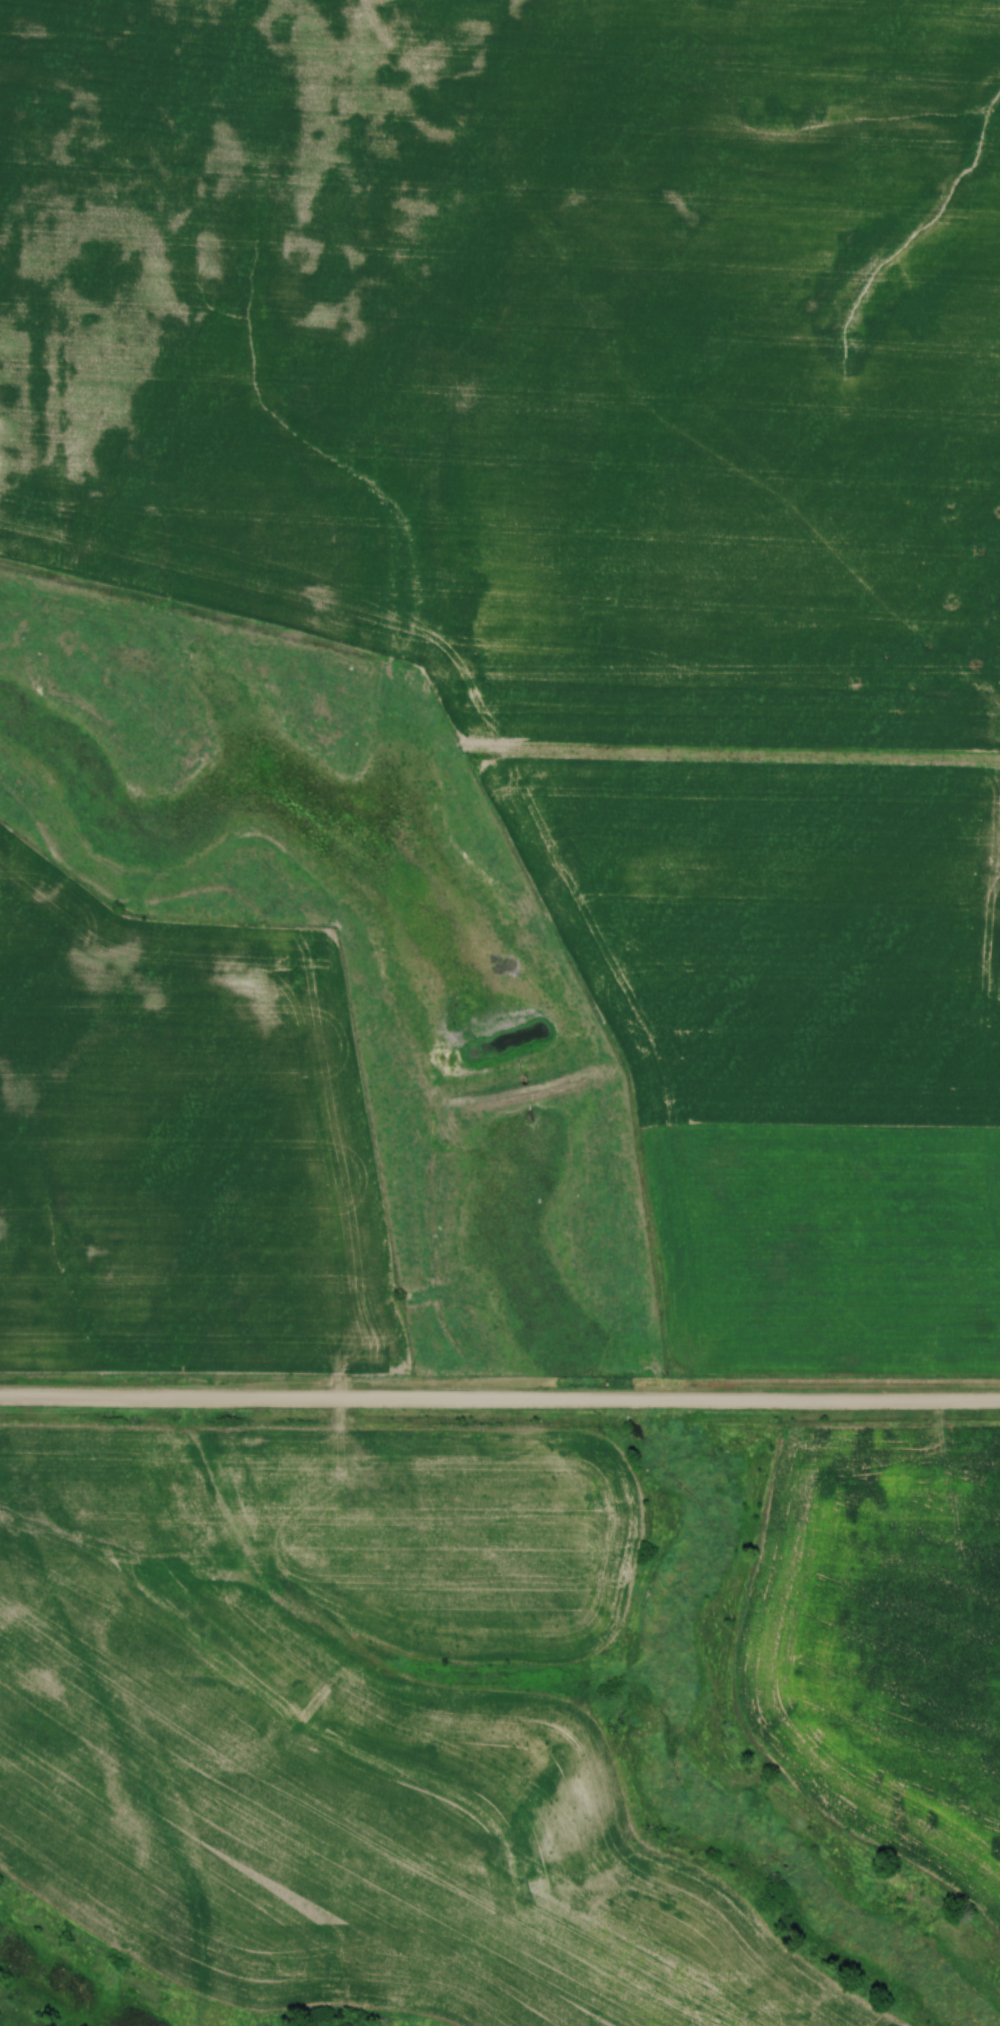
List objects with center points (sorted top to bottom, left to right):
road: (500, 1401)

